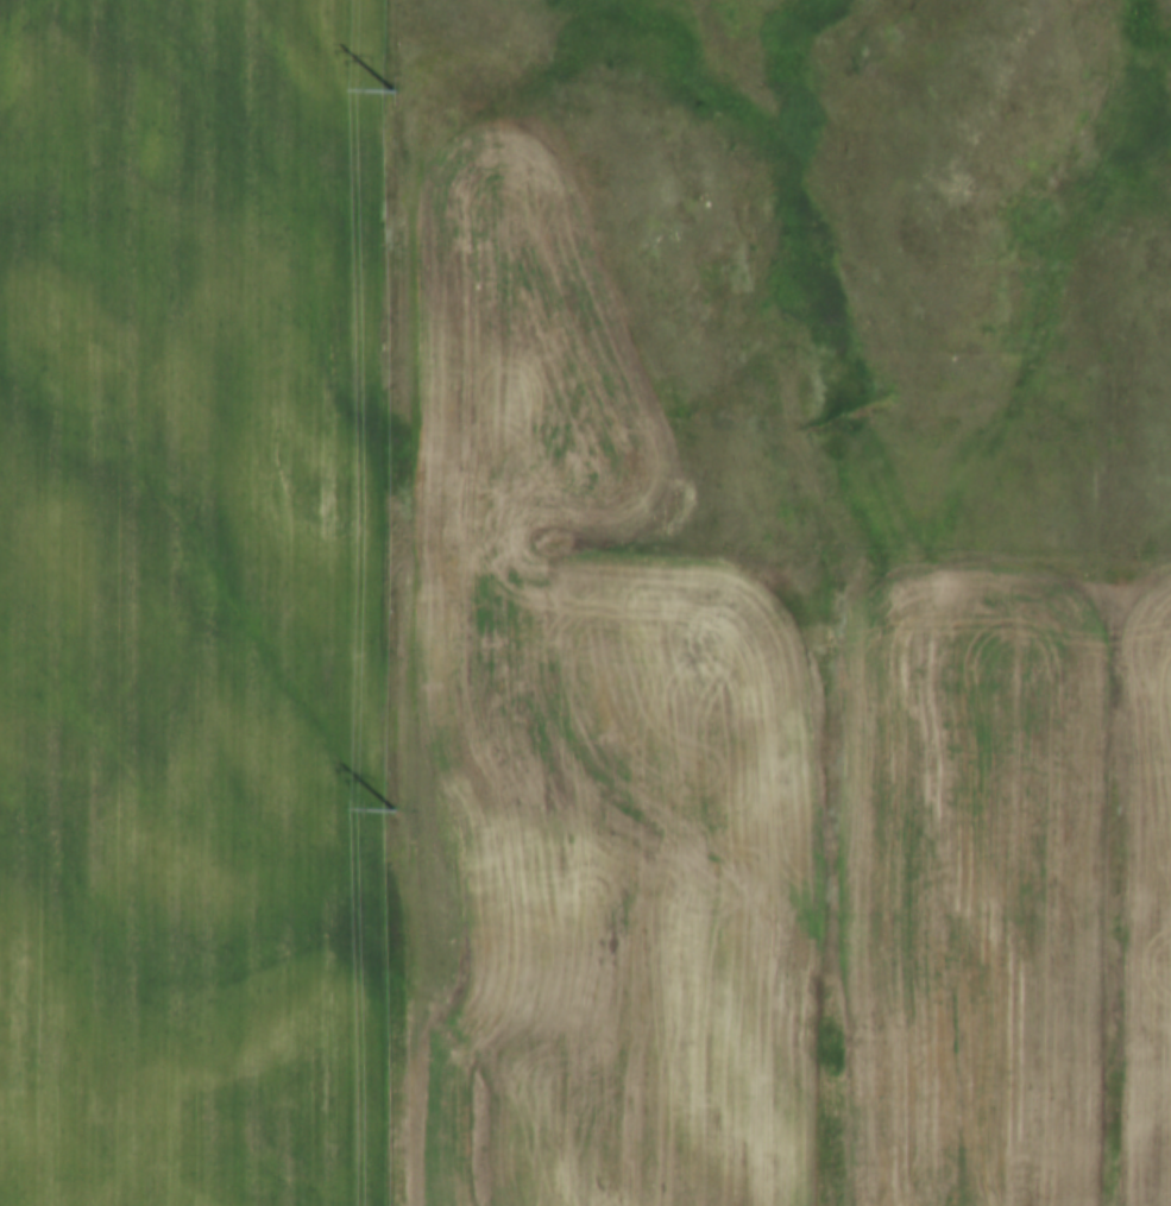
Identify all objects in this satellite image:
power tower: (403, 81)
power tower: (399, 809)

